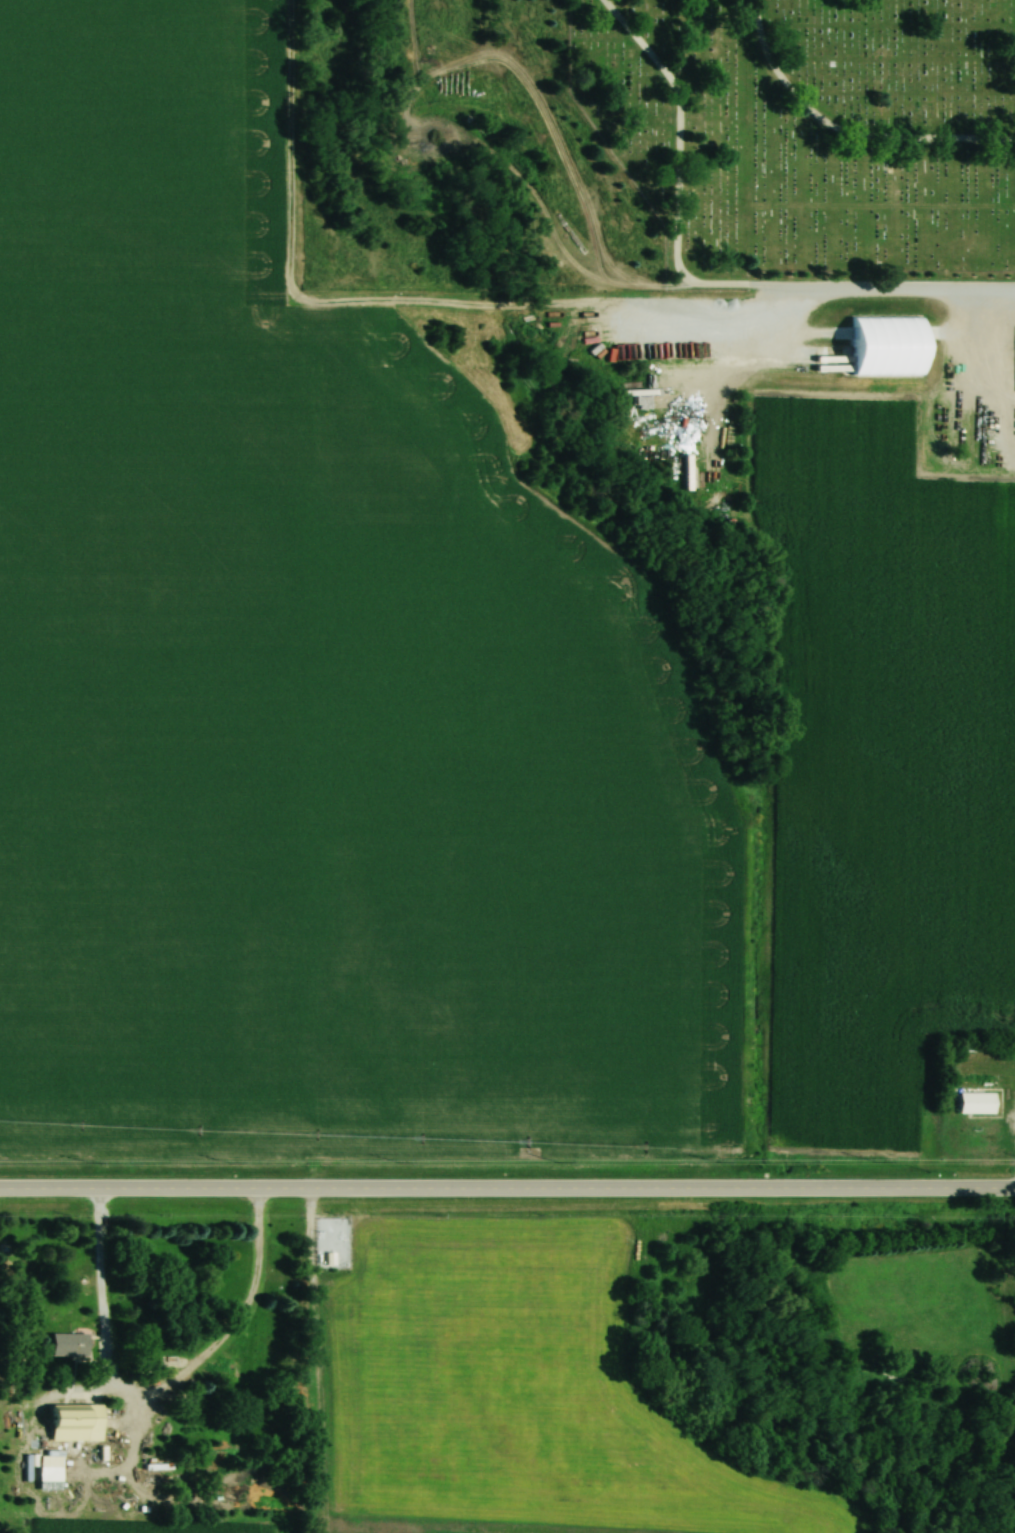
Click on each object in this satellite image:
road: (842, 133)
park: (656, 145)
road: (691, 285)
road: (994, 352)
crop: (309, 684)
building: (974, 1102)
road: (507, 1191)
building: (326, 1253)
building: (66, 1345)
crop: (521, 1388)
road: (150, 1394)
building: (75, 1423)
crop: (464, 1528)

